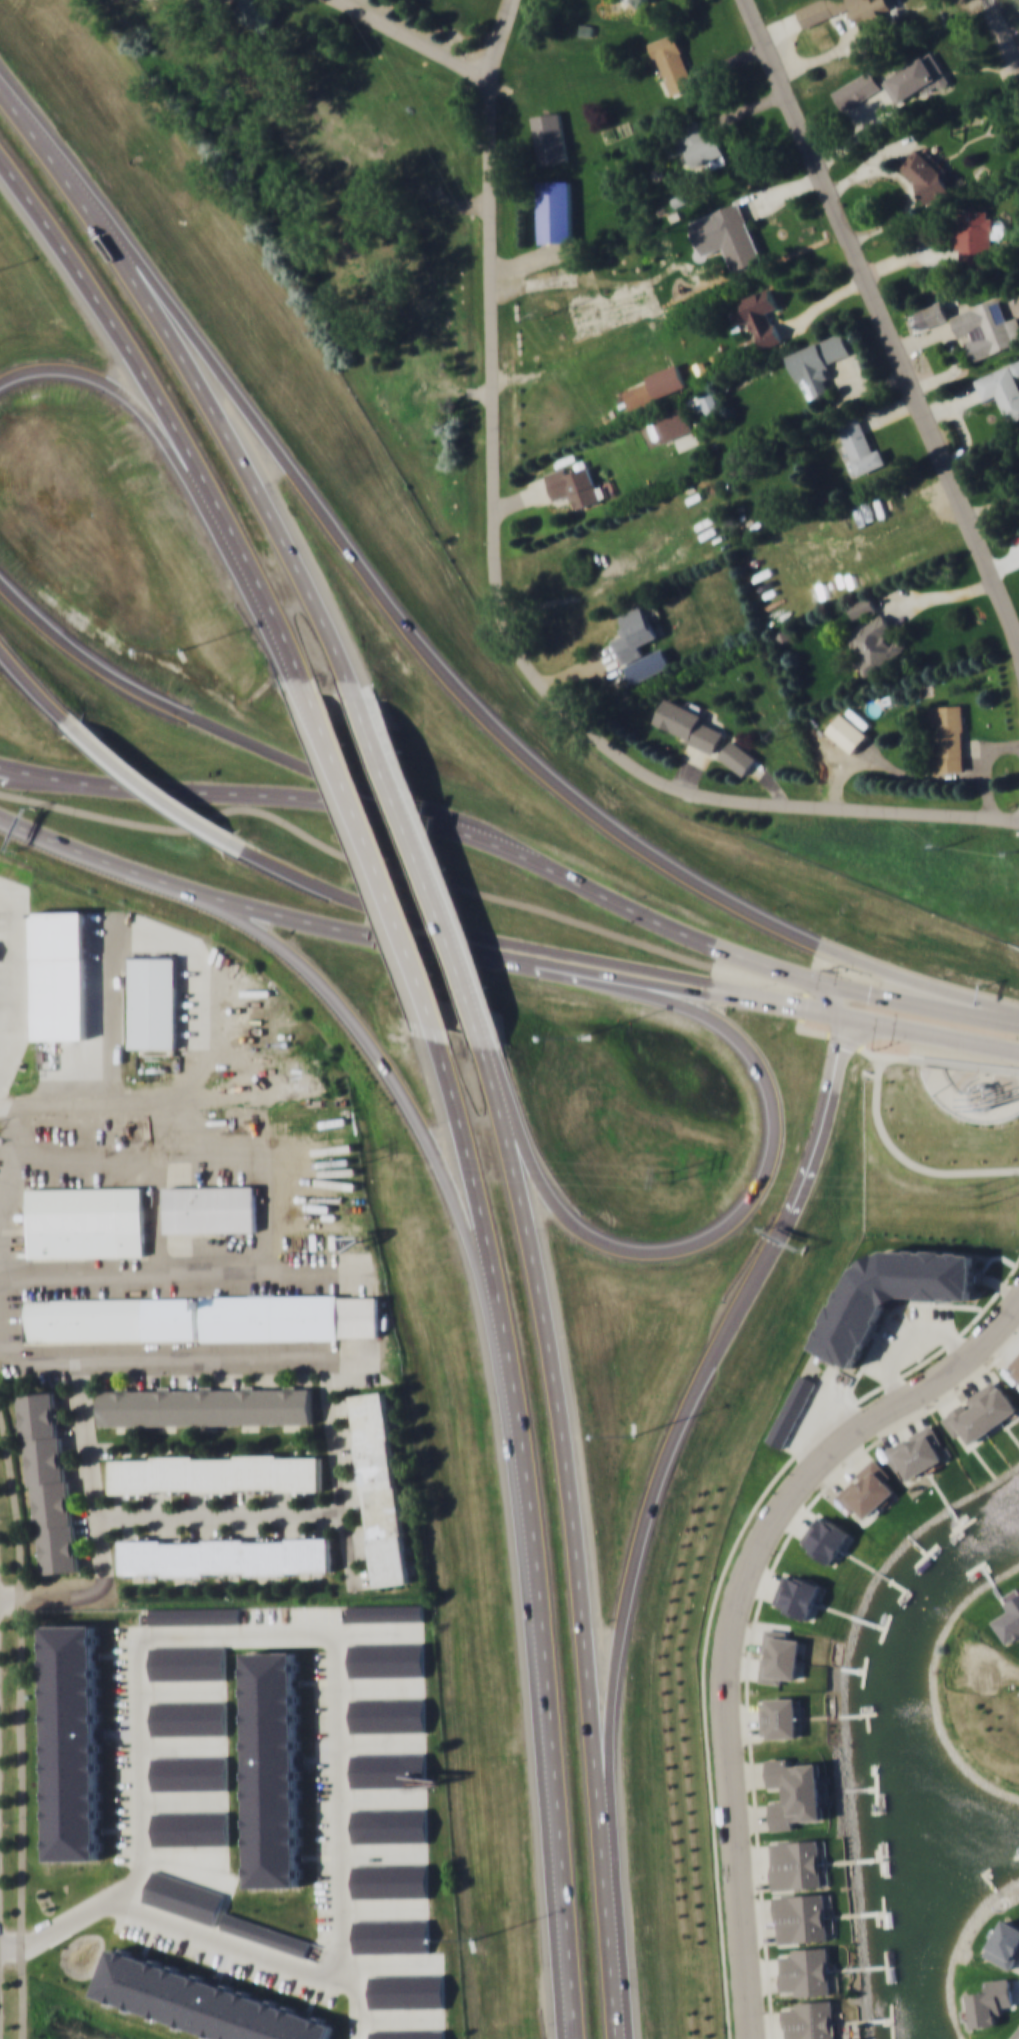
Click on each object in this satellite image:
building: (628, 0)
building: (640, 2)
building: (843, 9)
building: (255, 14)
road: (410, 40)
building: (671, 63)
building: (917, 77)
building: (855, 89)
road: (21, 114)
building: (550, 137)
building: (692, 143)
building: (925, 175)
building: (555, 210)
building: (735, 236)
building: (976, 238)
building: (935, 312)
power tower: (548, 316)
building: (758, 316)
road: (887, 320)
building: (983, 328)
building: (817, 361)
building: (1002, 388)
building: (706, 403)
road: (212, 407)
road: (169, 415)
building: (672, 422)
building: (859, 446)
road: (177, 456)
building: (573, 484)
street lamp: (82, 588)
road: (383, 594)
road: (496, 605)
building: (862, 605)
building: (633, 633)
building: (874, 643)
road: (40, 687)
road: (187, 710)
building: (687, 724)
power tower: (787, 730)
building: (847, 732)
building: (948, 735)
building: (737, 756)
road: (943, 777)
road: (153, 791)
road: (198, 794)
road: (452, 826)
road: (409, 828)
power tower: (940, 849)
power tower: (1017, 853)
road: (376, 858)
road: (456, 886)
road: (609, 897)
road: (254, 904)
road: (466, 934)
road: (614, 975)
street lamp: (267, 983)
road: (918, 985)
road: (864, 993)
traffic signals: (872, 995)
building: (152, 999)
road: (774, 1001)
road: (469, 1003)
traffic signals: (837, 1014)
road: (927, 1033)
road: (371, 1046)
street lamp: (661, 1084)
road: (876, 1098)
road: (137, 1104)
road: (809, 1144)
road: (819, 1150)
power tower: (356, 1159)
power tower: (671, 1173)
road: (475, 1180)
road: (750, 1197)
power tower: (983, 1197)
building: (211, 1208)
building: (87, 1221)
building: (290, 1316)
building: (111, 1318)
building: (1014, 1365)
building: (206, 1406)
building: (980, 1411)
road: (565, 1451)
building: (918, 1451)
building: (216, 1473)
building: (50, 1481)
building: (380, 1487)
building: (867, 1489)
building: (827, 1538)
building: (225, 1555)
road: (635, 1573)
street lamp: (458, 1591)
building: (801, 1596)
road: (738, 1611)
building: (387, 1613)
building: (195, 1616)
building: (1009, 1620)
building: (779, 1655)
building: (388, 1660)
building: (188, 1665)
road: (550, 1686)
road: (338, 1711)
building: (389, 1716)
building: (780, 1717)
building: (189, 1719)
road: (20, 1729)
building: (73, 1748)
building: (389, 1772)
building: (190, 1774)
building: (274, 1776)
building: (794, 1792)
building: (390, 1825)
building: (191, 1830)
building: (796, 1864)
building: (392, 1884)
building: (184, 1899)
road: (70, 1917)
building: (801, 1917)
building: (266, 1936)
building: (392, 1938)
road: (611, 1955)
street lamp: (695, 1962)
building: (806, 1970)
building: (408, 1994)
road: (359, 2002)
building: (203, 2003)
building: (809, 2019)
building: (1015, 2034)
building: (410, 2035)

